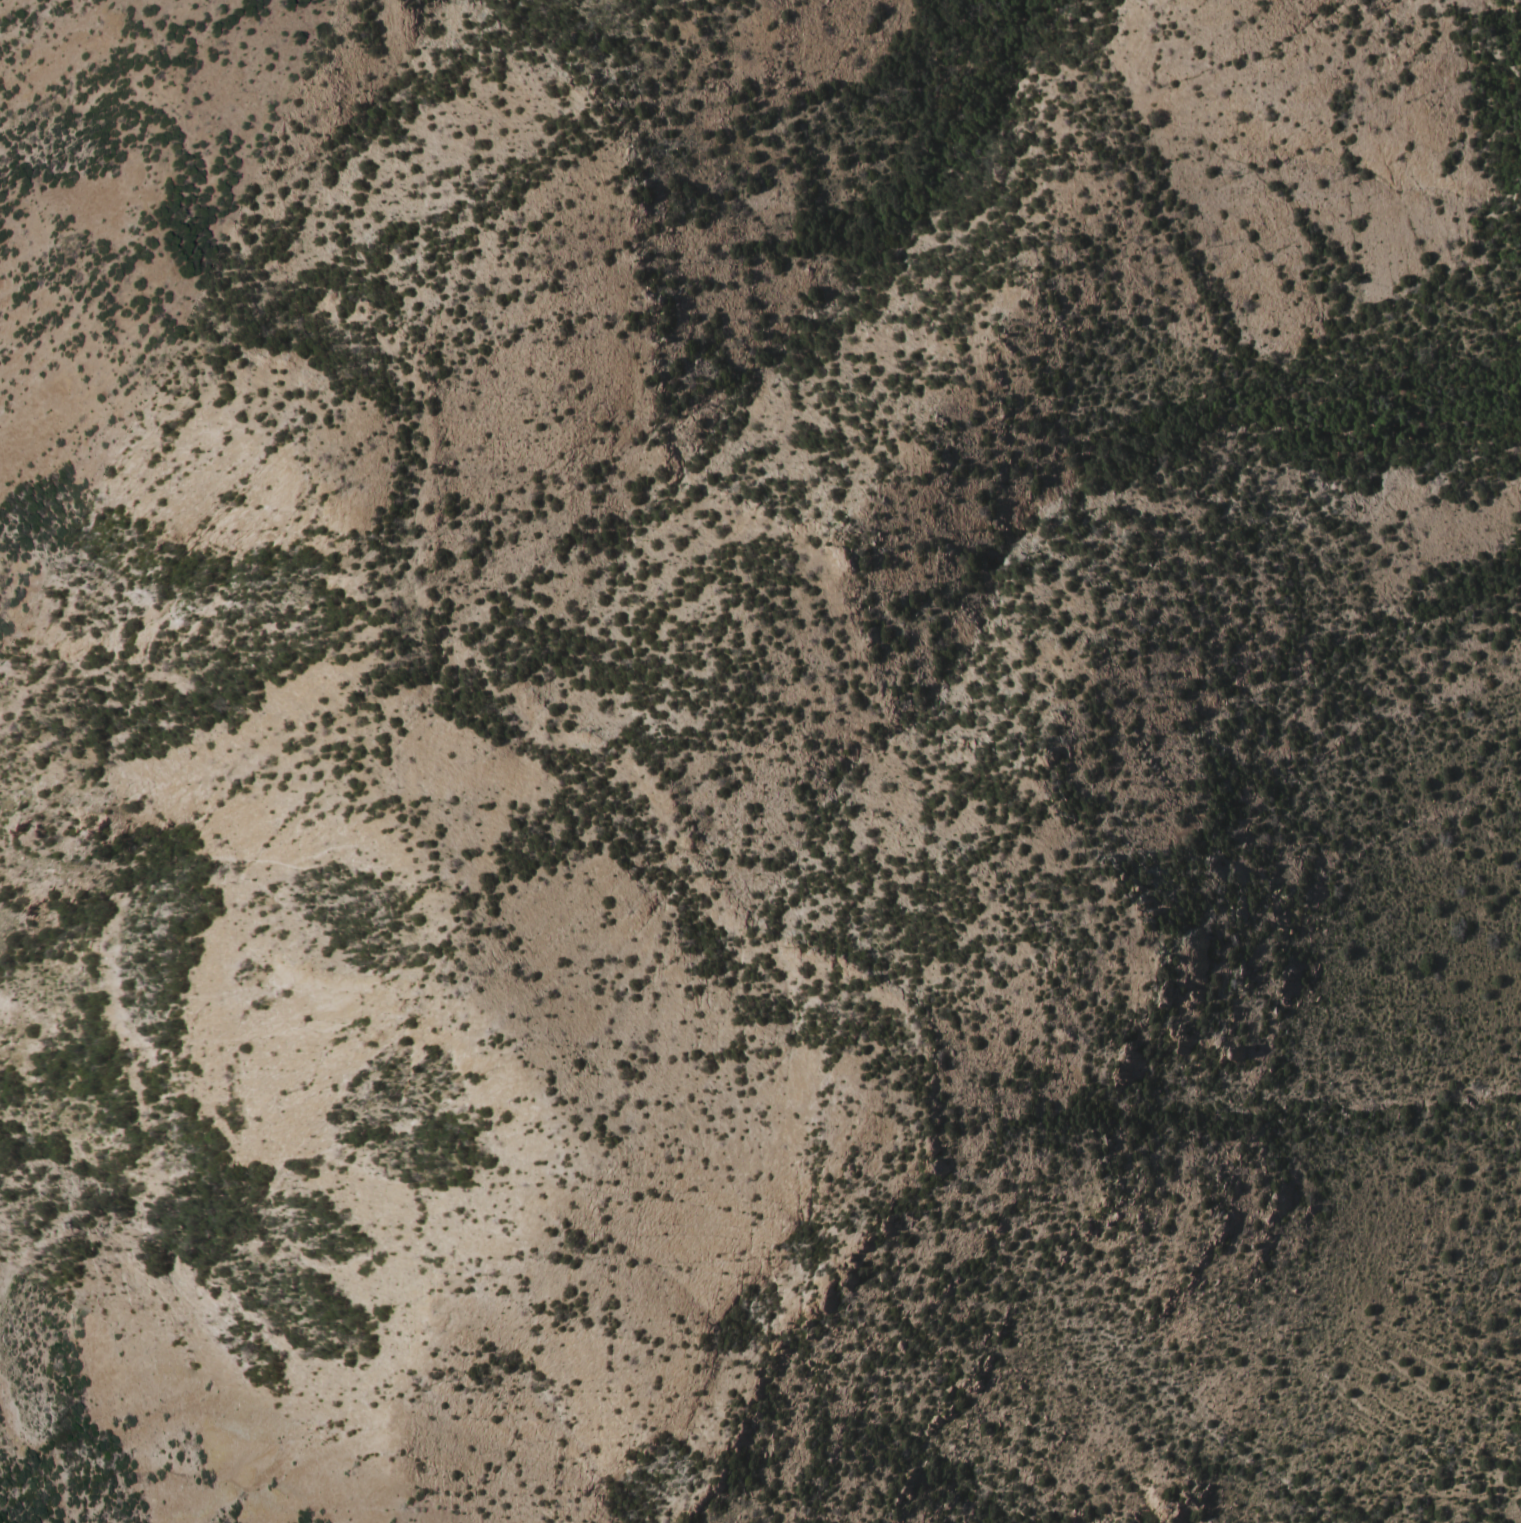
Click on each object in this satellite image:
road: (1520, 1)

